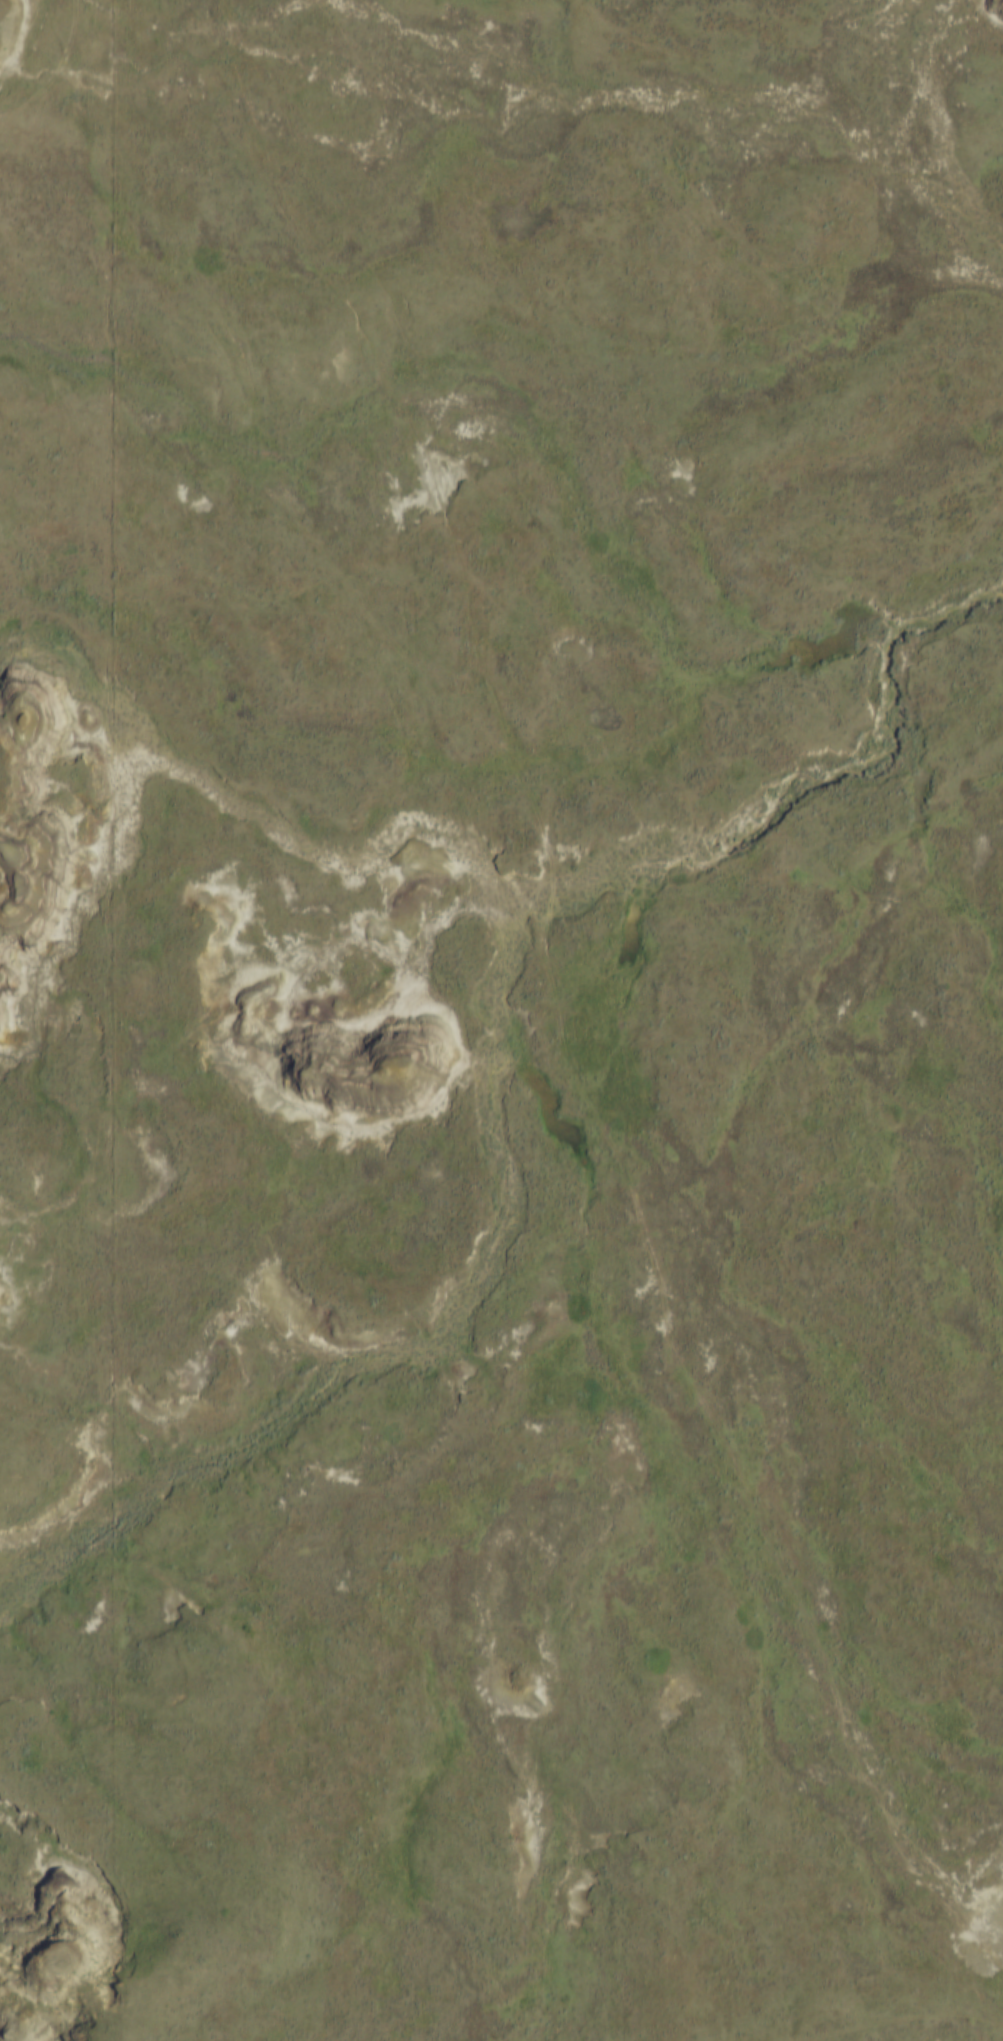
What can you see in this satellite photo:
road: (44, 65)
road: (629, 978)
road: (912, 2018)

